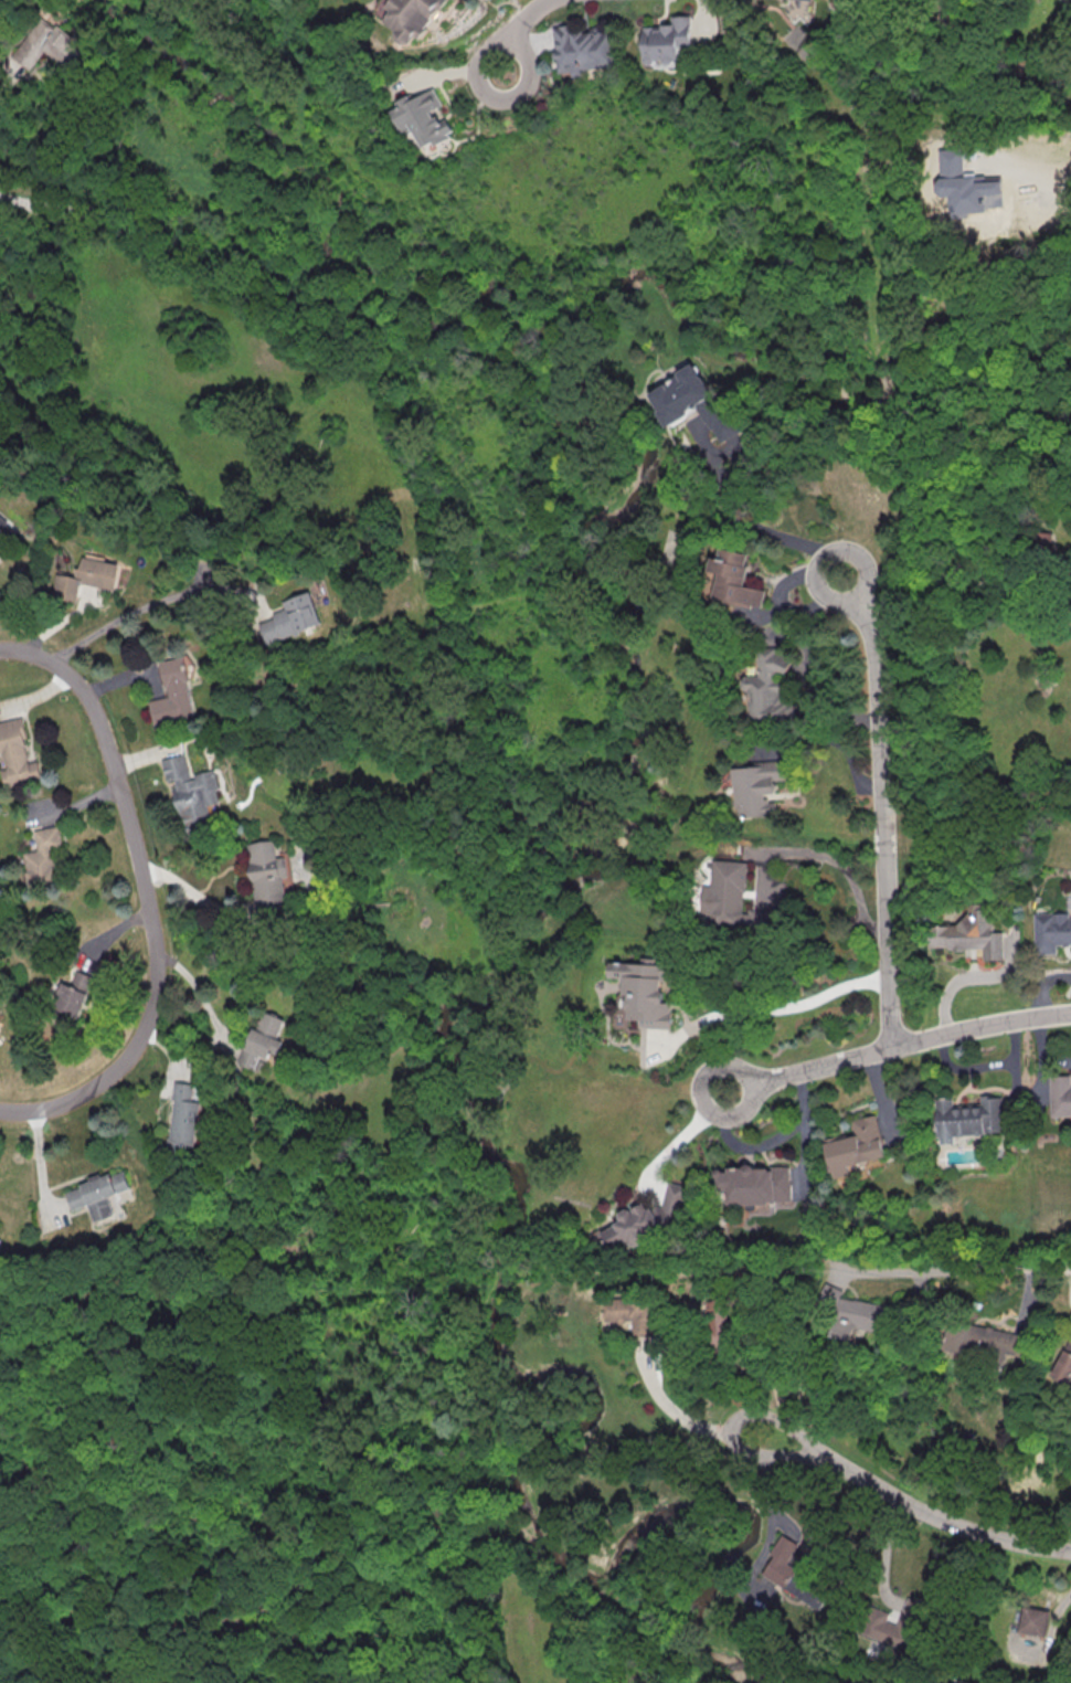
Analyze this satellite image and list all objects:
road: (1070, 0)
building: (415, 18)
road: (517, 30)
building: (45, 44)
building: (582, 47)
road: (9, 81)
building: (422, 117)
building: (966, 184)
building: (692, 401)
road: (753, 520)
building: (6, 532)
road: (363, 543)
building: (88, 578)
building: (736, 579)
road: (129, 616)
building: (288, 617)
building: (768, 687)
building: (173, 694)
building: (17, 753)
building: (757, 787)
building: (192, 791)
road: (879, 805)
building: (42, 858)
road: (840, 868)
building: (267, 875)
road: (194, 892)
road: (144, 896)
building: (731, 899)
building: (394, 902)
road: (325, 911)
building: (1050, 931)
road: (967, 977)
road: (1040, 984)
building: (73, 994)
building: (644, 994)
road: (206, 1004)
road: (762, 1010)
building: (263, 1039)
road: (897, 1042)
river: (447, 1046)
building: (1060, 1098)
building: (182, 1115)
building: (968, 1118)
road: (683, 1134)
building: (855, 1145)
building: (754, 1184)
building: (97, 1194)
building: (647, 1218)
road: (957, 1271)
building: (850, 1312)
building: (629, 1313)
building: (717, 1321)
building: (982, 1340)
building: (1064, 1363)
road: (688, 1421)
road: (467, 1493)
road: (912, 1505)
road: (243, 1563)
building: (793, 1574)
road: (462, 1591)
building: (1032, 1620)
building: (890, 1623)

